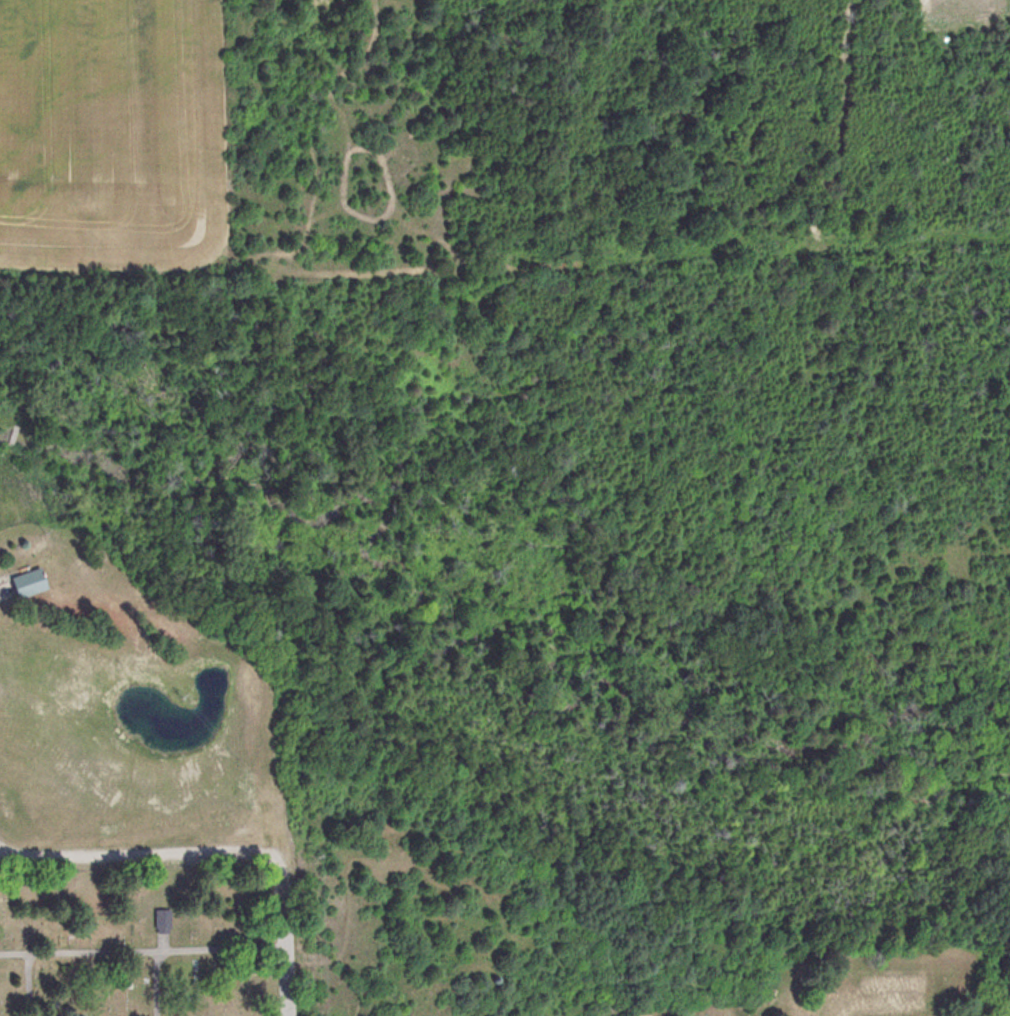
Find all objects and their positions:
building: (40, 582)
road: (136, 853)
building: (169, 921)
road: (278, 940)
park: (136, 941)
building: (881, 997)

